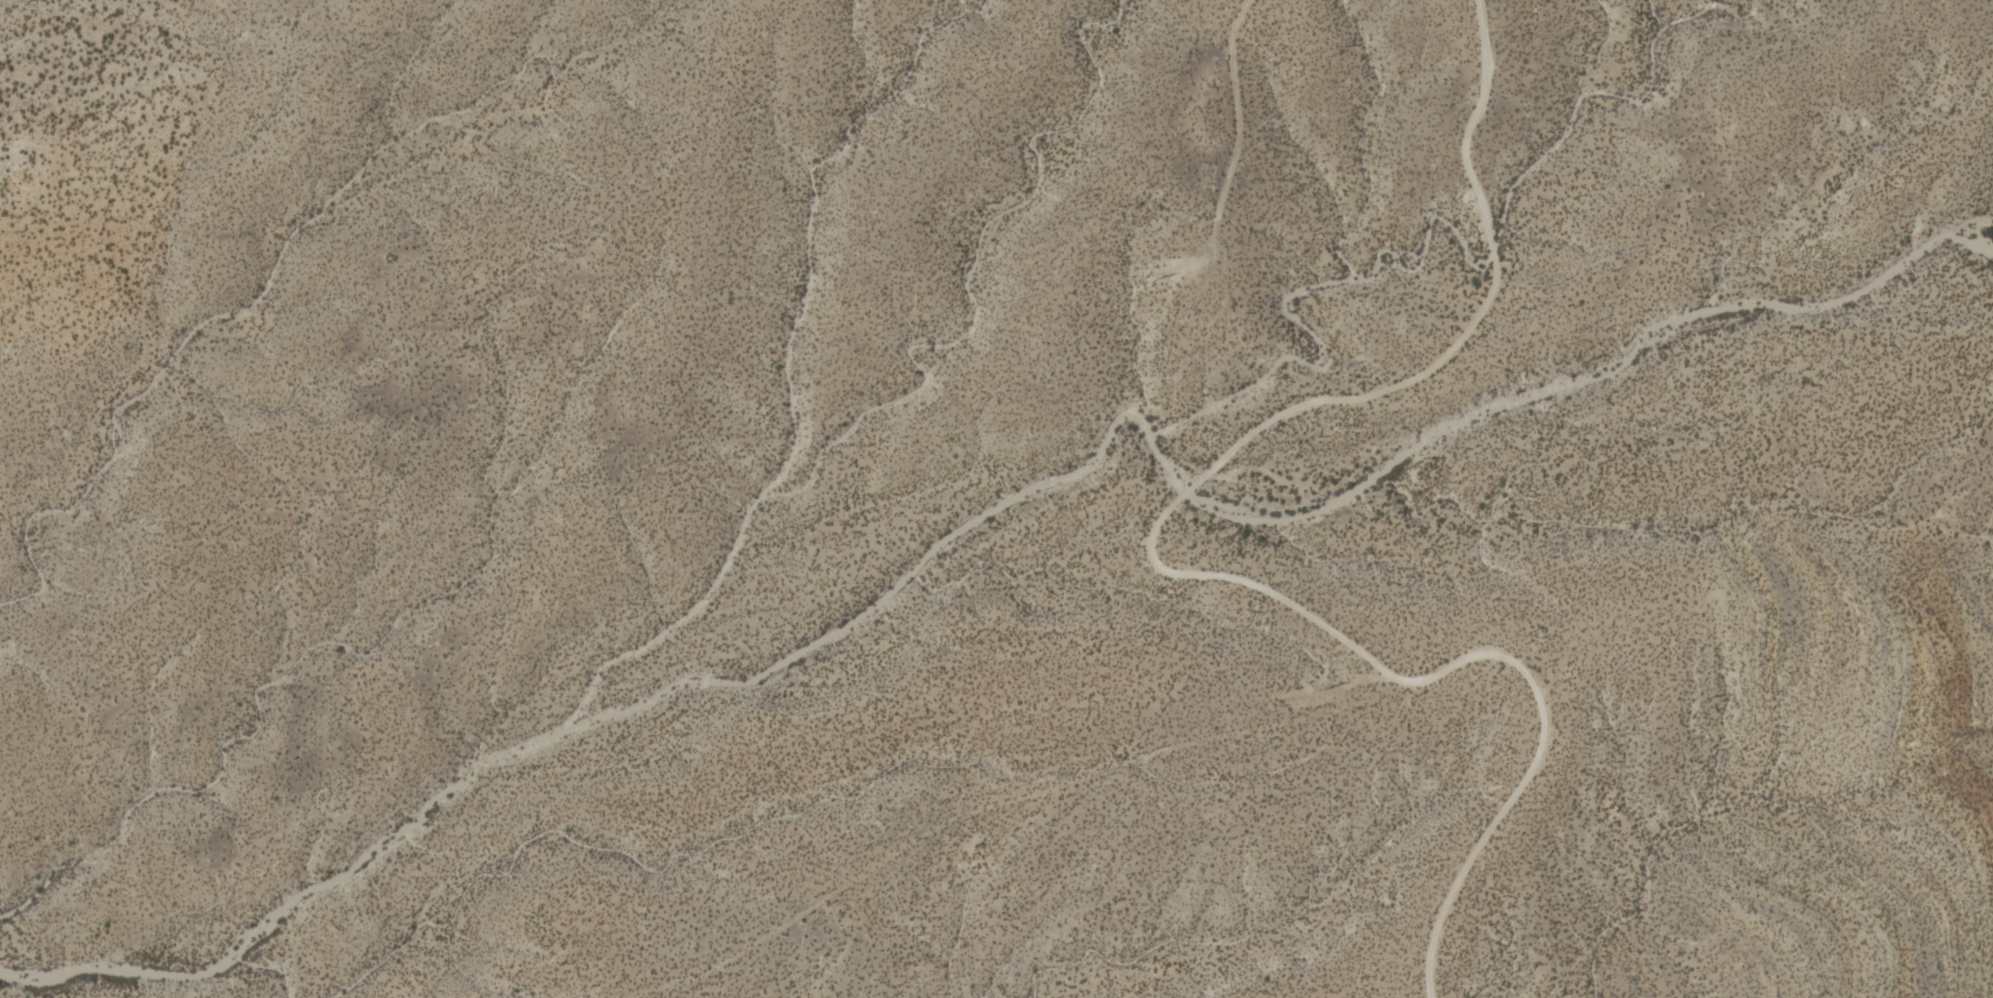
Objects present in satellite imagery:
power tower: (1159, 280)
road: (1158, 565)
power tower: (1326, 689)

